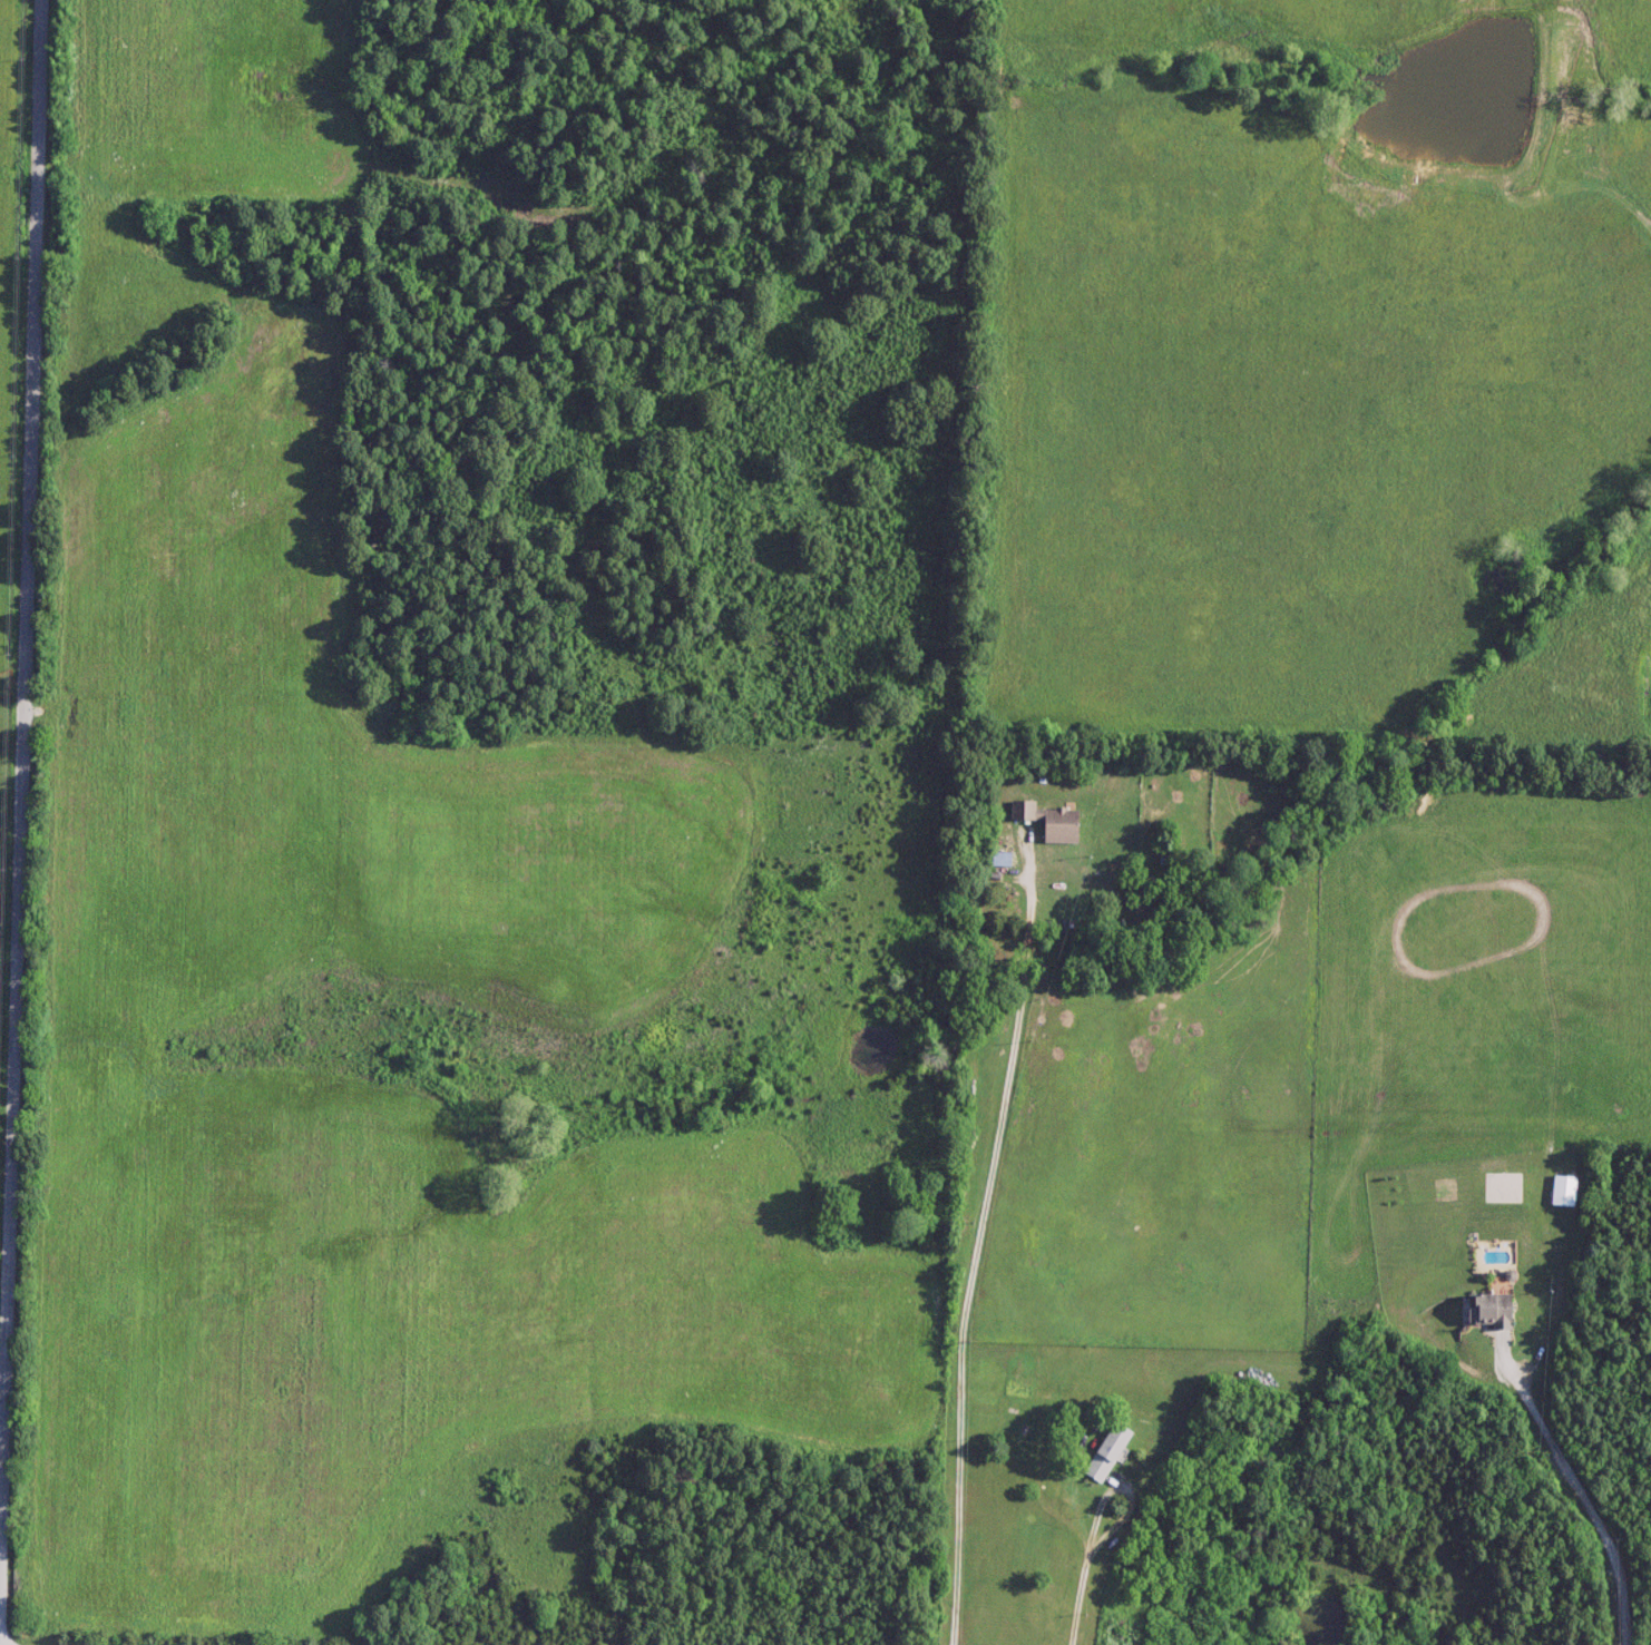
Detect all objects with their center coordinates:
road: (20, 822)
building: (1047, 822)
building: (1562, 1192)
road: (973, 1246)
building: (1488, 1311)
building: (1104, 1452)
road: (1576, 1487)
road: (1102, 1525)
road: (1087, 1598)

